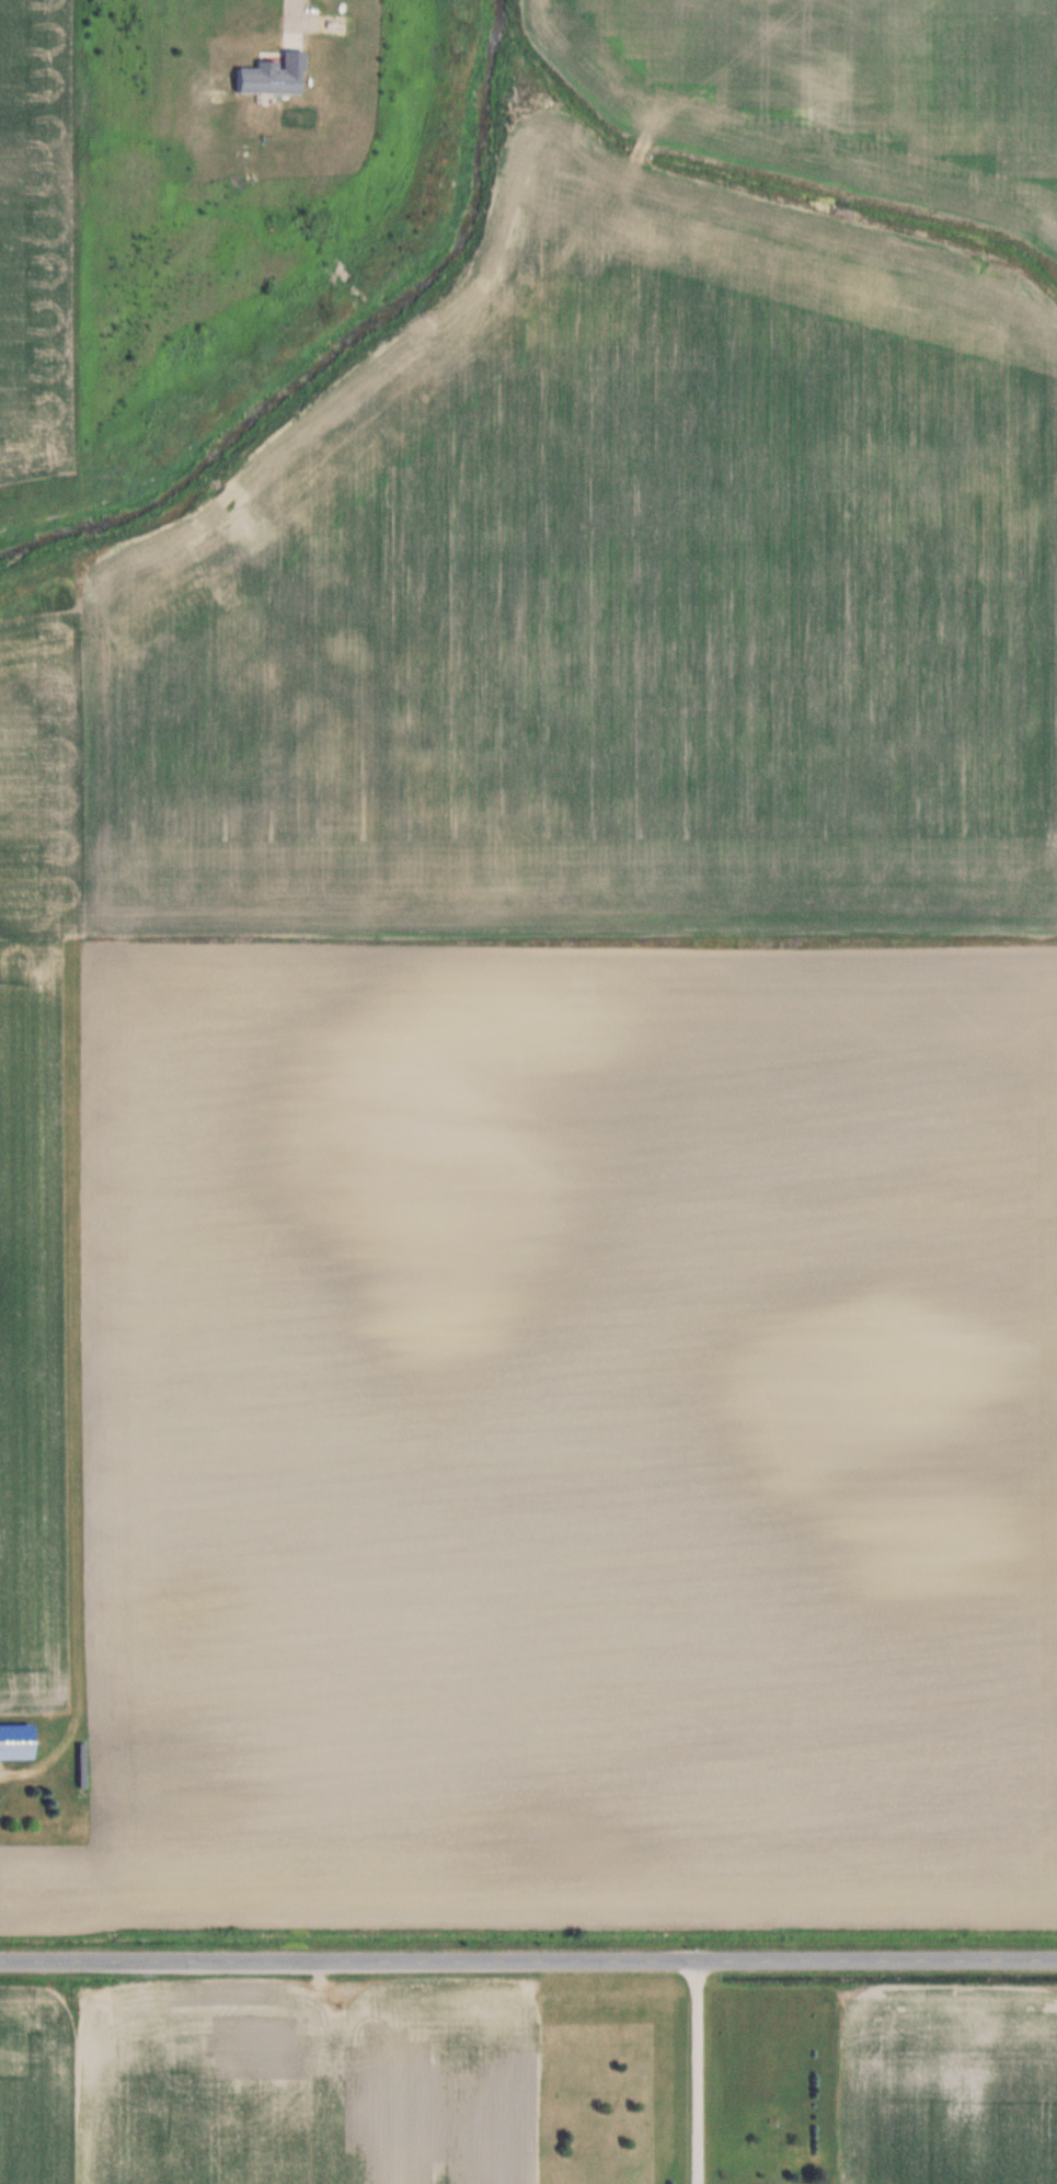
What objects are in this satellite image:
road: (289, 10)
building: (772, 36)
building: (276, 75)
building: (18, 1741)
road: (528, 1959)
road: (696, 2071)

